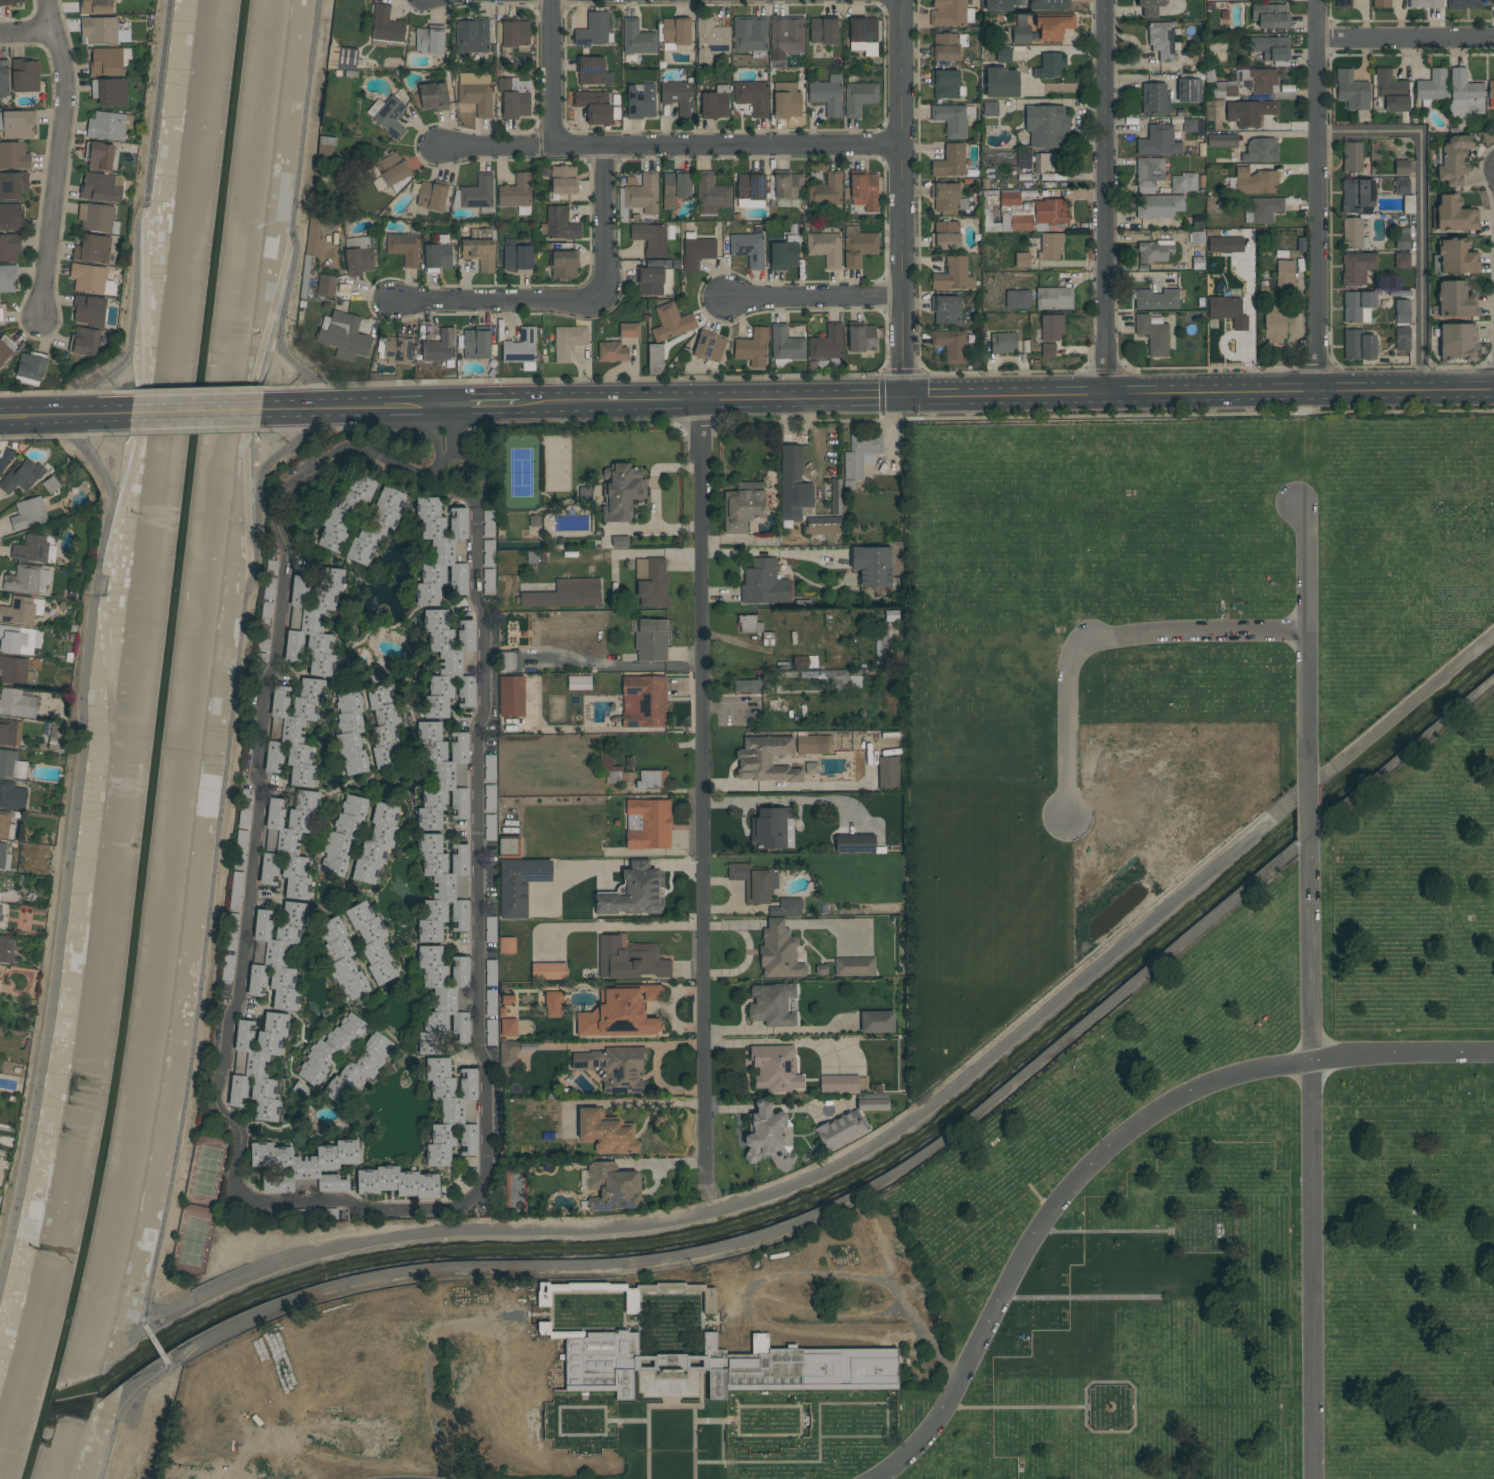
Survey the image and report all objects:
building: (9, 2)
building: (1425, 3)
building: (1493, 3)
building: (1342, 4)
building: (1381, 4)
building: (1462, 4)
building: (998, 5)
building: (1049, 5)
building: (96, 6)
building: (1149, 7)
building: (948, 13)
building: (1270, 16)
building: (386, 27)
building: (1053, 27)
road: (25, 29)
building: (102, 30)
building: (593, 30)
building: (676, 31)
building: (823, 31)
building: (513, 33)
building: (749, 34)
building: (472, 35)
building: (863, 35)
building: (1021, 35)
building: (786, 37)
building: (637, 38)
road: (1407, 38)
building: (710, 39)
building: (429, 40)
building: (1161, 41)
building: (944, 47)
building: (1271, 49)
building: (343, 60)
building: (109, 61)
building: (1049, 66)
building: (592, 71)
road: (555, 73)
building: (25, 75)
building: (4, 78)
building: (1259, 81)
building: (1002, 82)
building: (944, 84)
building: (1431, 87)
building: (1351, 90)
building: (110, 91)
building: (1189, 91)
building: (1391, 91)
building: (1464, 94)
building: (430, 95)
building: (827, 95)
building: (678, 96)
building: (476, 97)
building: (513, 97)
building: (752, 97)
building: (859, 98)
building: (1155, 98)
building: (786, 100)
building: (640, 101)
building: (715, 103)
building: (594, 106)
building: (1249, 112)
building: (388, 115)
building: (951, 120)
building: (17, 124)
building: (108, 125)
building: (1046, 126)
building: (1222, 140)
building: (1158, 142)
building: (325, 147)
road: (670, 147)
building: (1260, 150)
building: (99, 155)
building: (14, 156)
road: (60, 157)
building: (1351, 157)
building: (1454, 159)
building: (1021, 160)
building: (950, 161)
building: (1046, 162)
building: (1401, 167)
building: (392, 170)
building: (1149, 174)
building: (563, 179)
building: (1251, 182)
building: (1182, 183)
building: (13, 185)
building: (787, 185)
building: (1401, 186)
building: (102, 187)
building: (750, 187)
building: (675, 189)
building: (826, 191)
building: (516, 192)
building: (864, 192)
building: (431, 194)
building: (476, 194)
building: (643, 194)
building: (711, 194)
road: (1318, 194)
building: (1357, 196)
road: (1107, 197)
road: (902, 198)
building: (945, 198)
building: (1158, 206)
building: (1263, 210)
road: (1419, 210)
road: (291, 213)
building: (1021, 213)
building: (1453, 215)
road: (138, 216)
building: (10, 217)
building: (97, 217)
road: (603, 222)
building: (560, 224)
building: (1353, 234)
building: (945, 236)
building: (652, 238)
building: (1402, 239)
building: (1225, 245)
building: (9, 246)
building: (405, 246)
building: (858, 246)
building: (1050, 246)
building: (93, 249)
building: (748, 249)
building: (825, 249)
building: (310, 250)
building: (480, 250)
building: (1154, 251)
building: (697, 253)
building: (784, 254)
building: (437, 255)
building: (358, 256)
building: (516, 256)
building: (1456, 257)
building: (1401, 261)
building: (563, 265)
building: (1356, 268)
building: (1284, 274)
building: (953, 275)
building: (7, 278)
building: (92, 279)
building: (649, 281)
building: (327, 286)
road: (816, 297)
building: (1053, 298)
road: (499, 299)
building: (1156, 299)
building: (1020, 300)
building: (1455, 300)
building: (1357, 306)
building: (90, 309)
building: (945, 310)
building: (1227, 311)
building: (1402, 311)
building: (1, 313)
building: (670, 322)
building: (1274, 323)
building: (629, 330)
building: (1050, 334)
building: (1154, 335)
building: (344, 336)
building: (861, 338)
building: (1402, 339)
building: (1457, 340)
building: (84, 341)
building: (568, 341)
building: (827, 343)
building: (1003, 343)
building: (478, 344)
building: (785, 344)
building: (951, 345)
building: (1357, 345)
building: (440, 346)
building: (709, 347)
building: (752, 348)
building: (6, 349)
building: (396, 349)
building: (521, 349)
building: (612, 352)
building: (654, 359)
building: (31, 368)
road: (143, 392)
road: (1008, 394)
traffic signals: (906, 396)
road: (250, 403)
road: (491, 405)
road: (360, 408)
road: (195, 412)
road: (64, 414)
road: (449, 431)
road: (437, 433)
building: (860, 455)
building: (5, 457)
road: (477, 466)
road: (433, 469)
building: (22, 476)
building: (51, 484)
building: (790, 484)
building: (621, 492)
building: (835, 497)
building: (743, 506)
building: (346, 511)
building: (30, 513)
building: (534, 521)
building: (488, 523)
building: (823, 525)
building: (376, 526)
building: (619, 541)
building: (35, 549)
building: (442, 551)
building: (488, 552)
building: (872, 565)
building: (27, 580)
building: (270, 580)
building: (651, 582)
building: (763, 582)
building: (489, 583)
building: (565, 594)
building: (22, 610)
building: (267, 614)
building: (313, 620)
building: (748, 624)
road: (1101, 637)
building: (17, 639)
building: (264, 640)
building: (650, 640)
road: (1309, 648)
building: (509, 660)
building: (450, 663)
building: (15, 671)
building: (373, 676)
building: (579, 683)
building: (745, 686)
building: (511, 696)
building: (644, 701)
building: (17, 703)
road: (1402, 705)
building: (384, 726)
building: (294, 730)
building: (10, 732)
building: (350, 732)
building: (56, 737)
building: (814, 745)
building: (764, 760)
building: (11, 764)
building: (605, 765)
building: (489, 767)
building: (811, 768)
building: (888, 773)
building: (442, 775)
building: (651, 779)
road: (703, 794)
building: (12, 795)
building: (490, 797)
building: (245, 807)
road: (1313, 815)
building: (649, 824)
building: (6, 826)
building: (490, 827)
building: (768, 829)
building: (343, 835)
road: (71, 840)
building: (289, 843)
building: (376, 843)
building: (509, 847)
building: (240, 848)
road: (215, 855)
building: (4, 857)
building: (754, 882)
building: (520, 884)
building: (443, 887)
building: (236, 890)
building: (634, 893)
building: (2, 897)
building: (787, 907)
road: (633, 927)
building: (490, 930)
building: (231, 931)
building: (372, 942)
building: (507, 945)
building: (8, 951)
building: (779, 952)
building: (277, 954)
building: (342, 958)
building: (629, 959)
building: (854, 966)
building: (228, 967)
building: (548, 971)
building: (491, 973)
building: (444, 999)
building: (508, 999)
building: (490, 1002)
building: (553, 1004)
building: (772, 1004)
building: (501, 1012)
building: (620, 1013)
building: (876, 1022)
building: (507, 1027)
building: (491, 1031)
building: (330, 1049)
building: (508, 1053)
building: (258, 1065)
building: (613, 1066)
building: (775, 1068)
building: (359, 1069)
building: (843, 1083)
building: (302, 1090)
building: (872, 1105)
building: (452, 1112)
building: (841, 1131)
building: (606, 1133)
building: (767, 1133)
road: (1107, 1150)
road: (1314, 1157)
building: (304, 1167)
building: (397, 1182)
building: (612, 1186)
road: (270, 1202)
road: (873, 1280)
building: (630, 1301)
building: (706, 1303)
road: (154, 1341)
building: (726, 1367)
road: (671, 1406)
road: (791, 1406)
road: (121, 1411)
road: (723, 1457)

